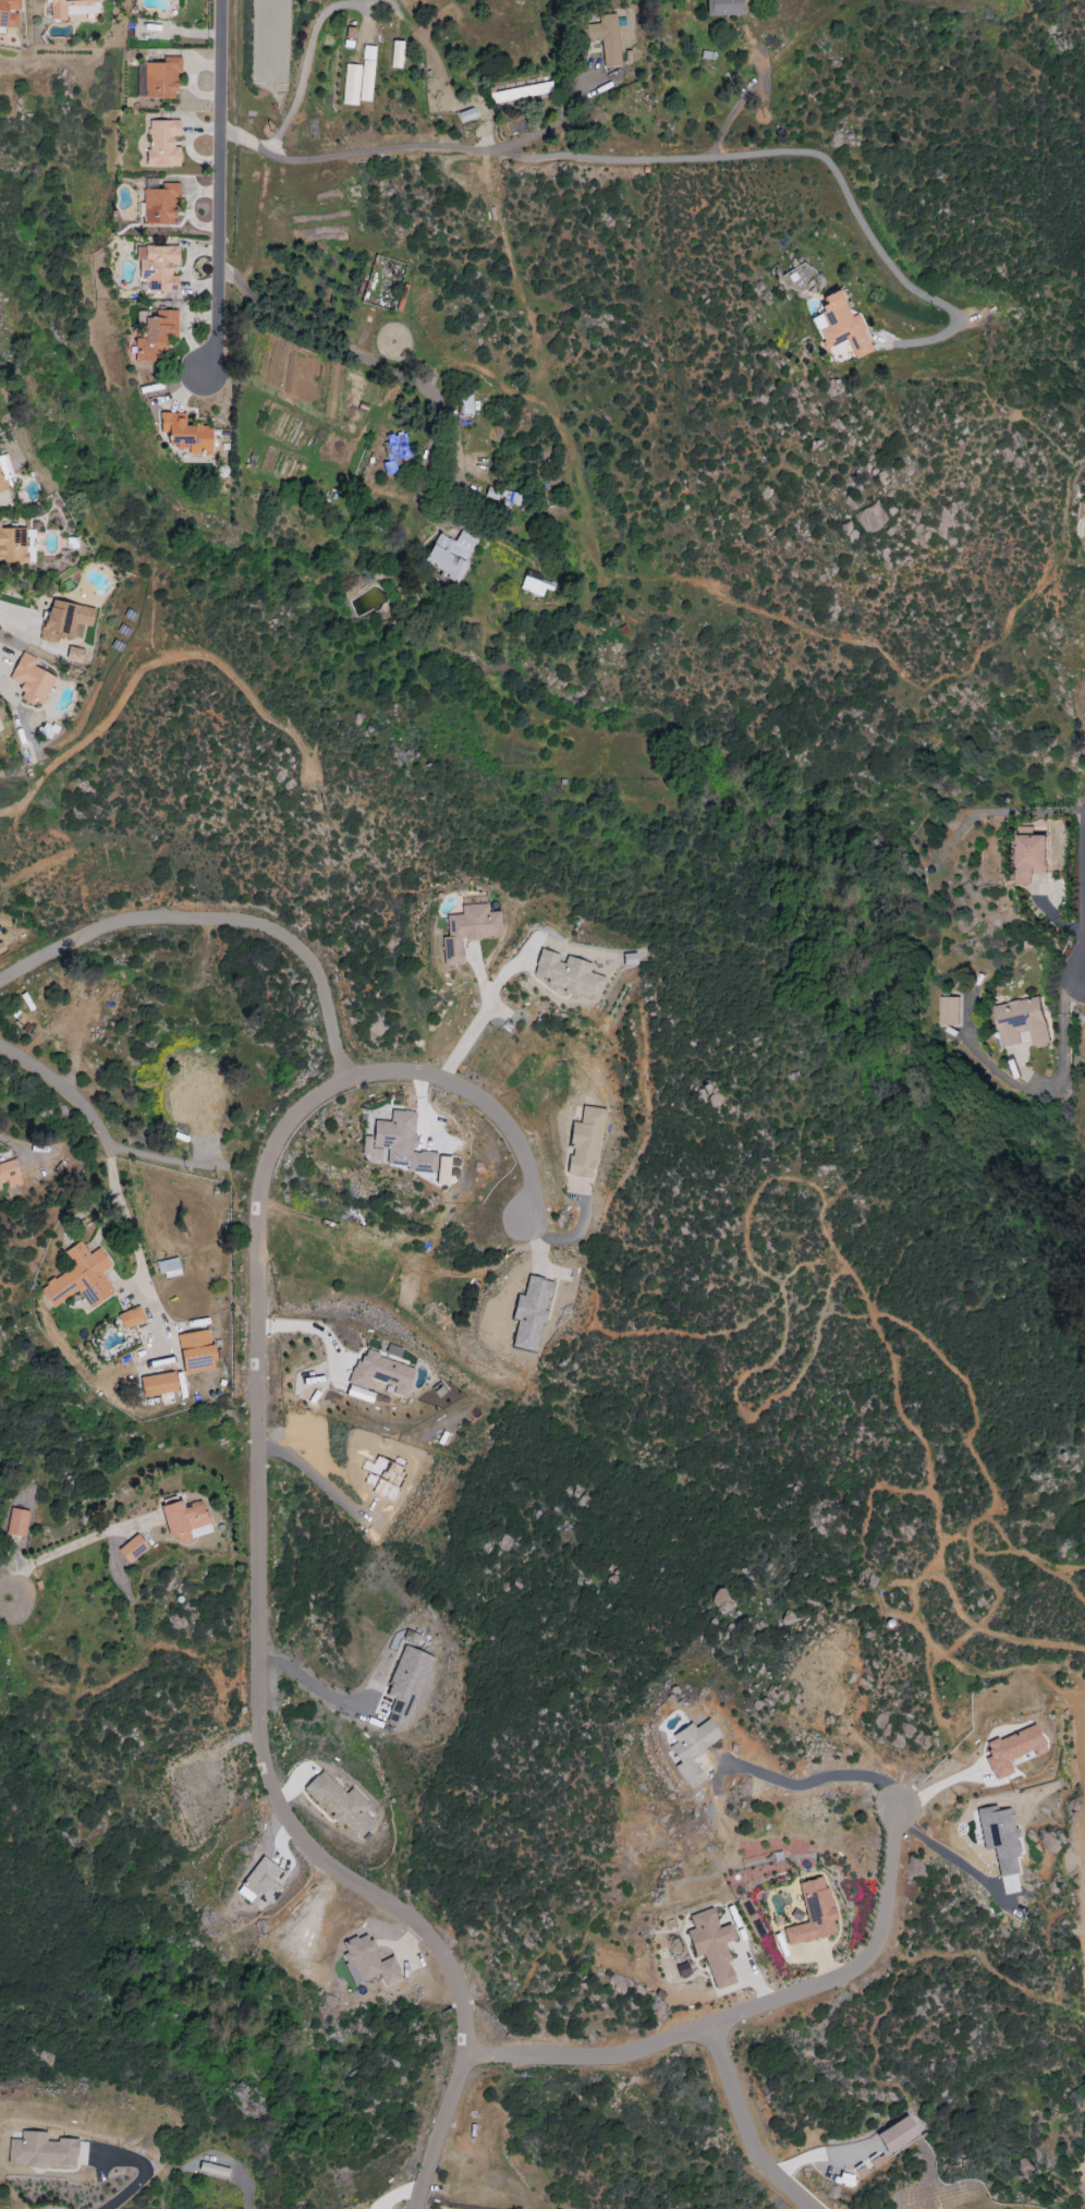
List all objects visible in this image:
building: (72, 8)
building: (723, 8)
building: (9, 13)
building: (625, 36)
building: (606, 38)
road: (306, 40)
building: (395, 54)
building: (161, 78)
building: (351, 85)
building: (521, 93)
road: (741, 100)
road: (551, 124)
building: (162, 144)
road: (656, 158)
road: (216, 186)
building: (159, 205)
building: (157, 267)
building: (800, 278)
building: (841, 328)
building: (154, 335)
road: (366, 361)
building: (185, 434)
building: (395, 452)
building: (3, 473)
building: (12, 546)
building: (449, 556)
building: (536, 584)
road: (16, 614)
building: (63, 620)
building: (31, 680)
building: (46, 731)
building: (1034, 854)
road: (218, 914)
building: (468, 927)
building: (629, 959)
building: (568, 974)
building: (952, 1010)
building: (1024, 1022)
road: (464, 1031)
road: (1066, 1044)
road: (64, 1088)
road: (5, 1139)
building: (397, 1143)
building: (585, 1143)
road: (163, 1157)
building: (9, 1175)
road: (125, 1210)
building: (168, 1267)
building: (80, 1278)
building: (529, 1313)
building: (131, 1318)
road: (316, 1327)
building: (196, 1352)
building: (381, 1373)
building: (158, 1384)
building: (184, 1520)
building: (16, 1522)
road: (257, 1530)
building: (132, 1549)
building: (406, 1685)
road: (315, 1686)
building: (1012, 1750)
building: (693, 1751)
road: (822, 1783)
building: (340, 1805)
road: (943, 1852)
building: (263, 1883)
building: (813, 1914)
building: (711, 1946)
building: (367, 1962)
road: (744, 2011)
road: (743, 2126)
building: (40, 2150)
building: (214, 2170)
road: (155, 2182)

